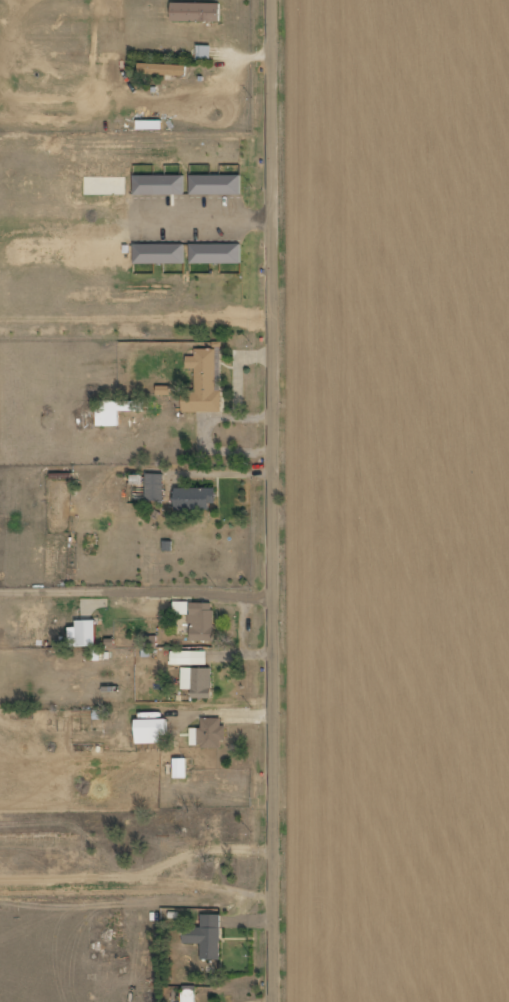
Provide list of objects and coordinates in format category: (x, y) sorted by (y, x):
building: (195, 12)
building: (162, 70)
building: (148, 125)
building: (158, 185)
building: (215, 185)
building: (158, 254)
building: (215, 254)
building: (203, 384)
building: (163, 391)
building: (116, 411)
building: (154, 487)
building: (195, 499)
road: (275, 500)
building: (181, 608)
building: (201, 622)
building: (83, 634)
building: (189, 658)
building: (198, 682)
building: (151, 731)
building: (208, 734)
building: (180, 768)
building: (206, 937)
building: (188, 994)

